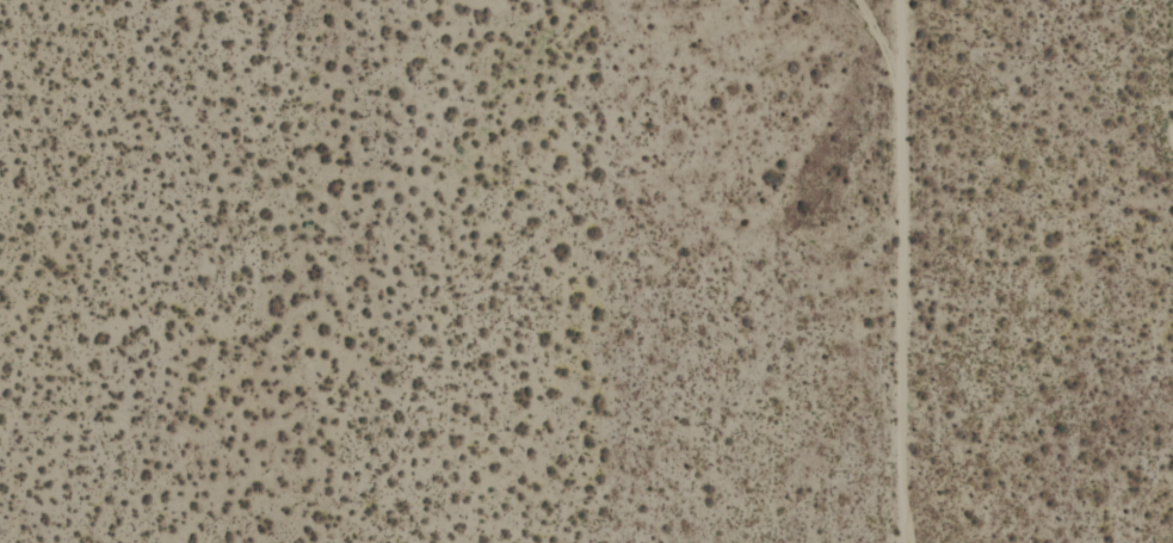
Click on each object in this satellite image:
road: (913, 271)

